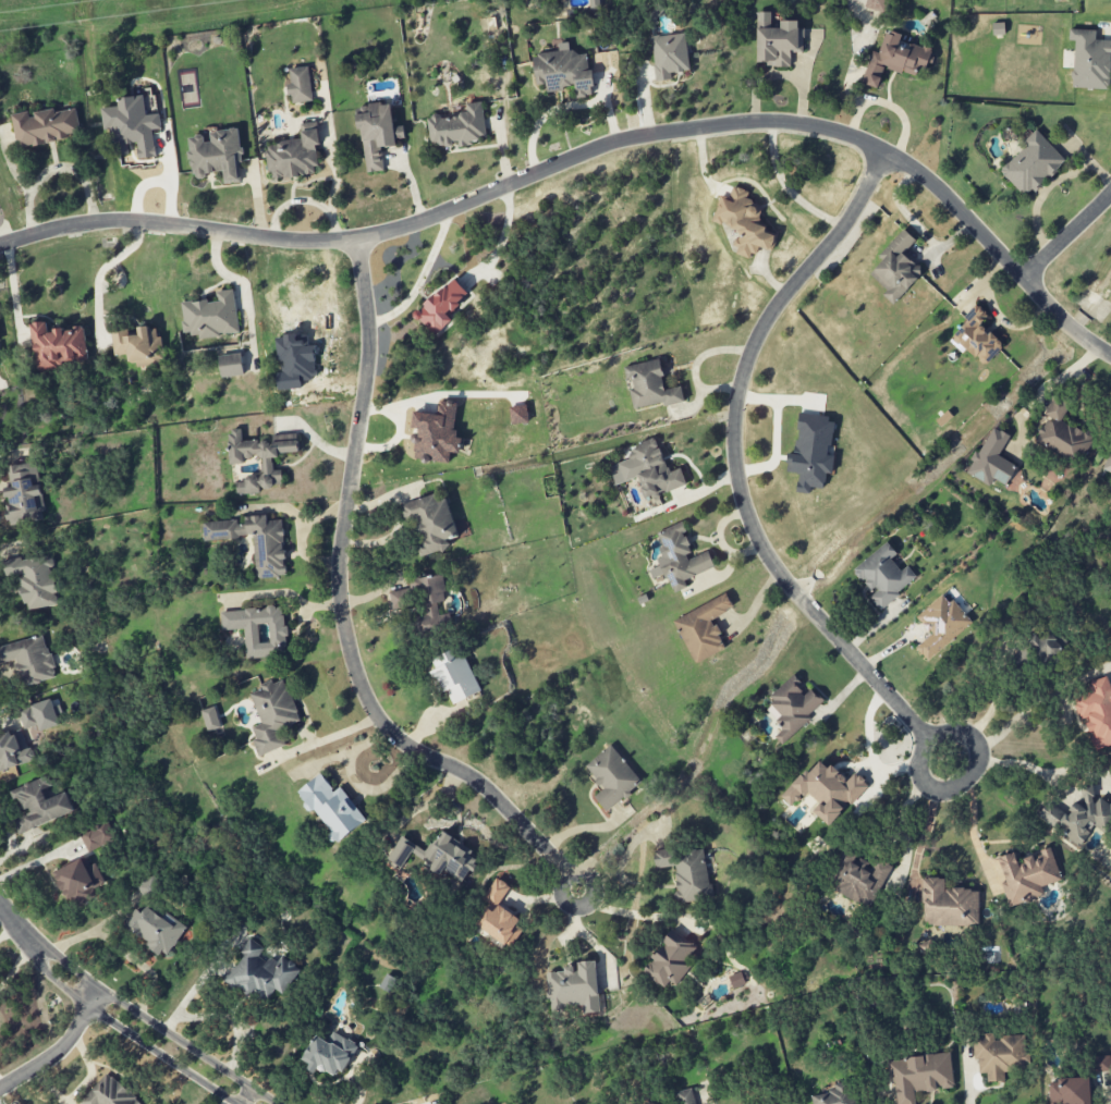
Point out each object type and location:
building: (876, 4)
building: (777, 40)
building: (669, 56)
building: (895, 59)
building: (1089, 60)
building: (564, 71)
building: (300, 85)
road: (888, 106)
building: (45, 126)
building: (132, 126)
building: (459, 127)
building: (378, 134)
road: (588, 151)
building: (216, 156)
building: (293, 156)
building: (1031, 164)
road: (788, 189)
building: (744, 222)
road: (1066, 236)
road: (499, 241)
road: (108, 267)
building: (896, 269)
road: (418, 277)
building: (441, 307)
road: (997, 314)
building: (211, 316)
building: (977, 338)
building: (58, 345)
building: (139, 346)
building: (231, 365)
building: (650, 385)
building: (518, 415)
building: (436, 433)
building: (1062, 433)
building: (811, 452)
road: (733, 458)
building: (991, 459)
building: (236, 462)
building: (1108, 464)
building: (647, 470)
building: (24, 494)
building: (430, 524)
building: (255, 541)
building: (679, 557)
building: (883, 576)
building: (34, 579)
building: (420, 602)
road: (343, 606)
building: (940, 625)
building: (703, 628)
building: (259, 630)
building: (1045, 646)
building: (29, 659)
building: (455, 675)
building: (793, 706)
building: (1096, 712)
building: (272, 715)
building: (27, 716)
road: (1026, 716)
building: (210, 719)
building: (12, 751)
road: (338, 753)
road: (1029, 769)
building: (612, 777)
road: (965, 778)
road: (373, 787)
building: (827, 790)
building: (38, 806)
building: (331, 808)
building: (1079, 815)
road: (969, 829)
road: (902, 831)
building: (89, 839)
building: (401, 851)
building: (452, 857)
building: (686, 871)
building: (1027, 874)
building: (78, 880)
building: (860, 881)
building: (496, 892)
road: (561, 897)
building: (949, 904)
road: (636, 915)
road: (14, 923)
building: (501, 925)
building: (157, 930)
road: (9, 934)
building: (670, 959)
road: (14, 961)
building: (261, 973)
building: (574, 988)
road: (150, 1022)
road: (123, 1030)
road: (61, 1051)
building: (329, 1054)
building: (999, 1055)
building: (1102, 1064)
building: (919, 1076)
building: (1069, 1091)
building: (110, 1093)
building: (837, 1094)
road: (248, 1096)
building: (685, 1096)

